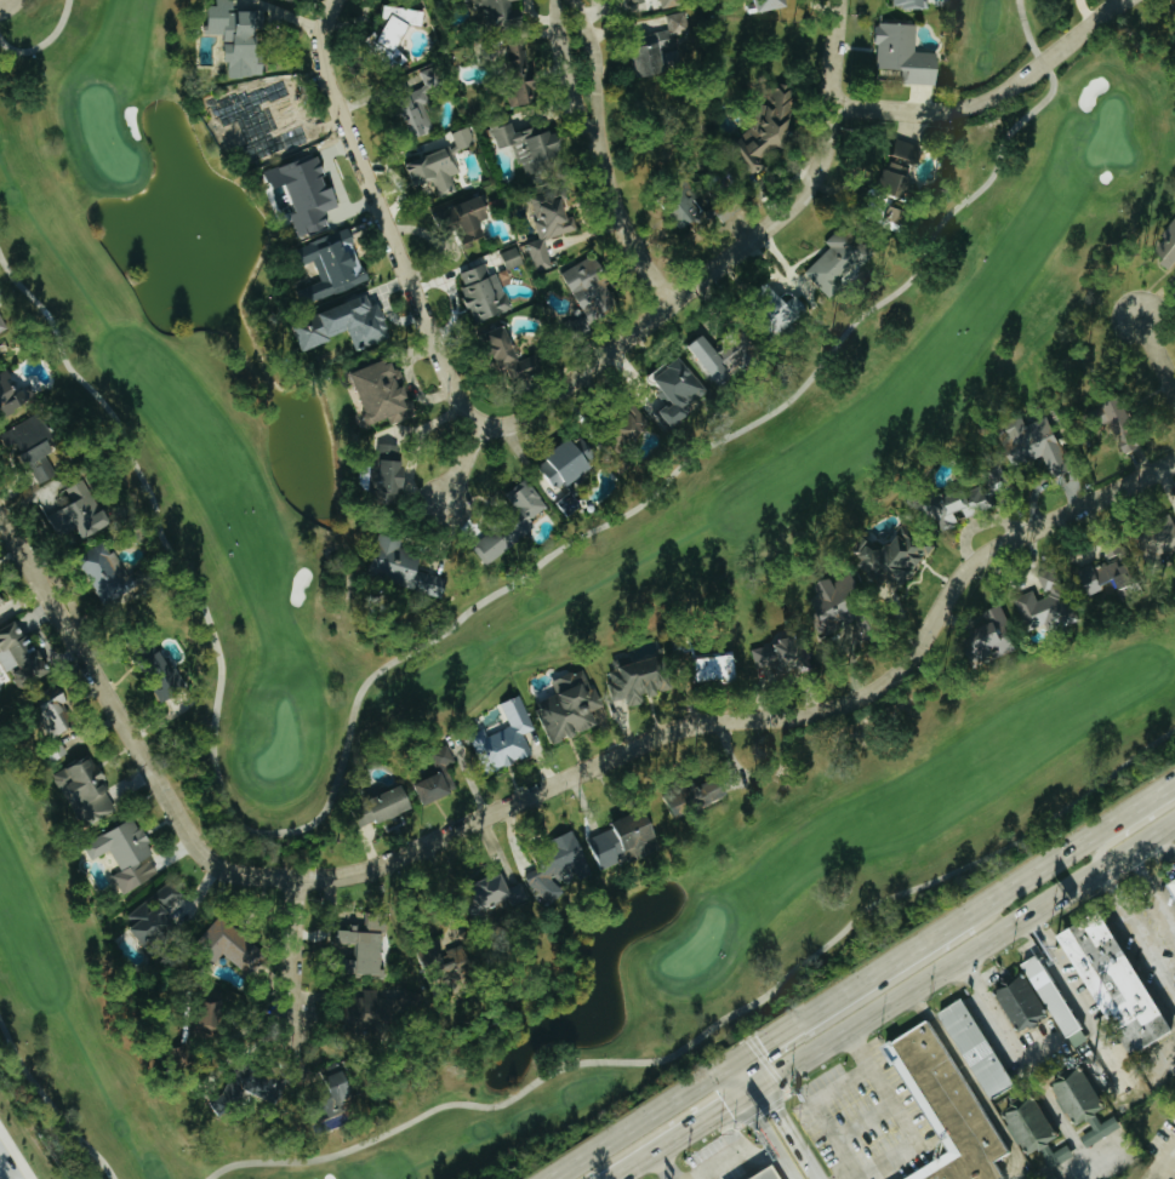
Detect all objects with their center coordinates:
building: (278, 0)
building: (627, 0)
building: (1050, 0)
building: (896, 4)
road: (6, 5)
building: (748, 5)
building: (485, 12)
building: (383, 36)
building: (228, 38)
building: (651, 47)
building: (896, 55)
building: (507, 56)
road: (839, 62)
building: (405, 119)
building: (251, 125)
road: (833, 136)
building: (457, 139)
building: (748, 142)
building: (520, 144)
road: (615, 154)
building: (426, 172)
building: (884, 184)
building: (295, 195)
building: (667, 206)
building: (457, 222)
building: (536, 230)
building: (1163, 246)
building: (504, 259)
building: (829, 262)
building: (327, 268)
road: (413, 269)
building: (581, 291)
building: (477, 294)
building: (363, 299)
building: (763, 314)
building: (1, 324)
building: (344, 324)
road: (1157, 350)
building: (496, 356)
building: (711, 357)
building: (667, 391)
building: (10, 394)
building: (372, 395)
building: (1108, 423)
building: (618, 429)
park: (823, 430)
building: (34, 445)
building: (549, 468)
road: (467, 471)
building: (373, 480)
building: (951, 505)
building: (79, 513)
building: (504, 522)
building: (1157, 540)
building: (395, 570)
building: (113, 574)
building: (1100, 576)
building: (0, 602)
building: (829, 605)
building: (1040, 606)
building: (983, 639)
building: (21, 654)
building: (772, 656)
building: (149, 664)
building: (703, 668)
building: (623, 682)
building: (559, 706)
building: (51, 709)
road: (771, 719)
road: (126, 726)
building: (498, 739)
building: (434, 756)
building: (424, 786)
building: (85, 789)
building: (686, 796)
building: (369, 809)
road: (1129, 829)
building: (612, 840)
road: (1068, 847)
building: (125, 854)
building: (546, 866)
road: (1146, 874)
building: (1170, 888)
road: (1117, 891)
building: (485, 895)
road: (1168, 910)
building: (153, 916)
park: (633, 920)
building: (234, 945)
building: (350, 951)
road: (1153, 951)
road: (301, 957)
building: (422, 958)
road: (959, 958)
building: (1116, 981)
road: (843, 990)
building: (1051, 995)
road: (1071, 995)
road: (987, 998)
building: (1014, 1003)
building: (209, 1013)
building: (349, 1013)
traffic signals: (762, 1043)
building: (970, 1048)
building: (895, 1069)
road: (971, 1083)
road: (840, 1086)
building: (327, 1094)
building: (234, 1095)
traffic signals: (725, 1104)
building: (1077, 1105)
building: (946, 1109)
traffic signals: (778, 1110)
road: (781, 1116)
road: (635, 1122)
road: (759, 1122)
building: (1029, 1133)
road: (677, 1137)
road: (902, 1146)
road: (735, 1150)
road: (11, 1160)
road: (1167, 1163)
road: (666, 1164)
road: (8, 1173)
building: (755, 1174)

